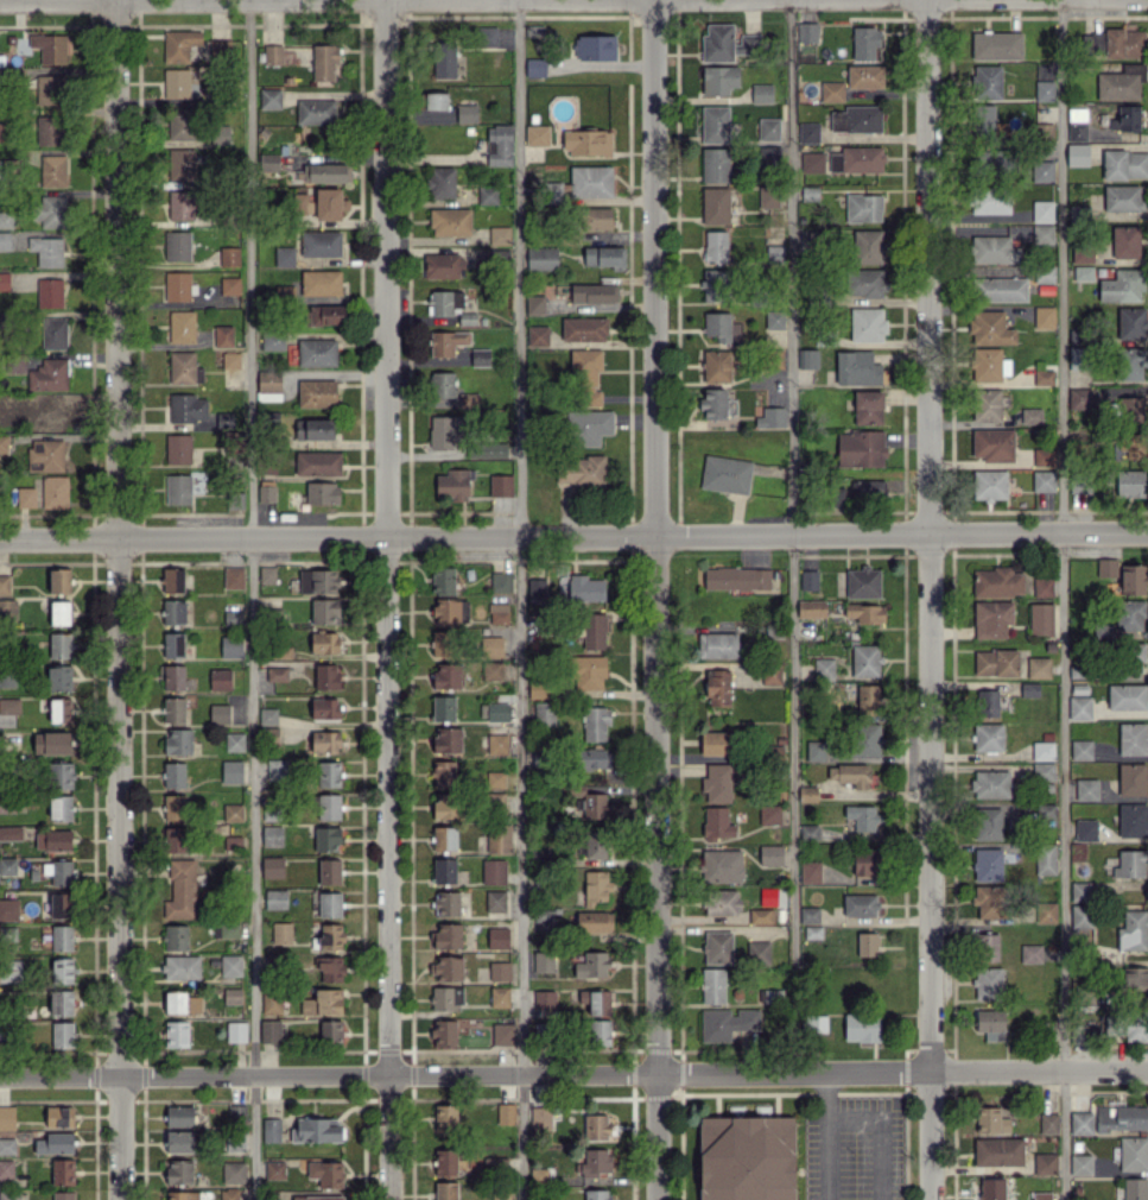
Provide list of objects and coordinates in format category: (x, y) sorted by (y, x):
road: (57, 0)
building: (537, 30)
building: (807, 32)
building: (486, 36)
building: (865, 42)
building: (1096, 42)
building: (725, 43)
building: (1124, 43)
building: (179, 44)
building: (997, 45)
building: (50, 46)
building: (595, 46)
building: (273, 53)
building: (444, 59)
building: (324, 61)
building: (535, 67)
building: (864, 76)
building: (719, 80)
building: (177, 82)
building: (987, 82)
building: (1121, 83)
building: (49, 89)
building: (831, 90)
building: (1045, 90)
building: (761, 93)
building: (269, 97)
building: (433, 100)
building: (316, 110)
building: (467, 113)
building: (984, 116)
building: (1125, 118)
building: (856, 119)
building: (182, 124)
building: (715, 124)
building: (768, 128)
building: (49, 130)
building: (1077, 130)
building: (1, 132)
building: (807, 132)
building: (220, 133)
building: (537, 134)
building: (586, 141)
building: (499, 145)
building: (1077, 154)
building: (857, 159)
building: (995, 159)
building: (268, 162)
building: (812, 162)
building: (180, 164)
building: (715, 164)
building: (1124, 164)
building: (53, 170)
building: (1041, 171)
building: (326, 172)
building: (590, 181)
building: (442, 182)
building: (487, 194)
building: (768, 196)
building: (1122, 197)
building: (989, 200)
building: (303, 203)
building: (329, 203)
building: (180, 204)
building: (715, 204)
building: (863, 207)
building: (1041, 210)
building: (52, 211)
building: (596, 217)
building: (6, 219)
building: (450, 221)
building: (497, 234)
building: (1042, 234)
building: (5, 240)
building: (1125, 241)
building: (321, 242)
building: (177, 245)
building: (715, 246)
building: (868, 246)
building: (994, 250)
building: (47, 251)
building: (774, 253)
building: (1082, 253)
building: (229, 255)
building: (285, 255)
building: (605, 257)
building: (541, 258)
building: (443, 265)
building: (1083, 272)
building: (5, 280)
building: (321, 282)
building: (865, 282)
building: (713, 284)
building: (177, 285)
building: (230, 285)
building: (1122, 285)
building: (1001, 289)
building: (49, 292)
building: (594, 293)
building: (445, 302)
building: (534, 304)
building: (326, 314)
building: (1044, 317)
building: (774, 320)
building: (1130, 322)
building: (867, 323)
building: (182, 326)
building: (722, 327)
building: (584, 328)
building: (991, 328)
building: (53, 333)
building: (223, 335)
building: (538, 335)
building: (272, 340)
building: (448, 341)
building: (316, 352)
building: (480, 356)
building: (807, 358)
building: (1076, 358)
building: (230, 360)
building: (15, 362)
building: (1130, 362)
building: (989, 364)
building: (716, 365)
building: (184, 367)
building: (857, 367)
building: (49, 374)
building: (585, 377)
building: (1044, 377)
building: (442, 384)
building: (268, 385)
building: (317, 393)
building: (1079, 398)
building: (713, 403)
building: (6, 404)
building: (987, 404)
building: (868, 406)
building: (1130, 409)
building: (196, 411)
building: (44, 415)
building: (1030, 415)
building: (770, 417)
building: (268, 418)
building: (588, 427)
building: (313, 428)
building: (445, 431)
building: (4, 443)
building: (992, 444)
building: (1128, 446)
building: (178, 448)
building: (861, 448)
building: (491, 449)
building: (45, 455)
building: (1044, 456)
building: (318, 463)
building: (582, 470)
building: (725, 474)
building: (1044, 480)
building: (1130, 482)
building: (452, 484)
building: (989, 484)
building: (500, 485)
building: (178, 488)
building: (871, 490)
building: (55, 491)
building: (266, 491)
building: (323, 492)
building: (837, 495)
building: (25, 497)
road: (573, 533)
road: (926, 535)
road: (792, 536)
building: (1106, 567)
building: (267, 574)
building: (234, 576)
building: (737, 579)
building: (808, 579)
building: (1133, 579)
building: (59, 580)
building: (172, 580)
building: (442, 580)
building: (318, 581)
building: (997, 581)
building: (500, 582)
building: (863, 582)
building: (5, 583)
building: (1042, 586)
building: (582, 588)
building: (537, 589)
road: (658, 599)
road: (114, 600)
road: (250, 600)
road: (388, 600)
road: (520, 600)
road: (1065, 600)
building: (7, 608)
building: (811, 608)
building: (325, 611)
building: (445, 611)
building: (59, 612)
building: (175, 612)
building: (865, 612)
building: (1129, 615)
building: (231, 617)
building: (991, 618)
building: (1040, 618)
building: (594, 631)
building: (325, 642)
building: (444, 643)
building: (173, 644)
building: (717, 644)
building: (59, 645)
building: (231, 646)
building: (491, 646)
building: (1131, 657)
building: (865, 661)
building: (996, 662)
building: (1038, 667)
building: (823, 668)
building: (491, 670)
building: (589, 671)
building: (277, 674)
building: (772, 674)
building: (446, 675)
building: (326, 676)
building: (59, 677)
building: (173, 677)
building: (220, 678)
building: (6, 680)
building: (717, 687)
building: (1029, 689)
building: (1127, 696)
building: (865, 697)
building: (987, 702)
building: (1079, 707)
building: (324, 708)
building: (443, 708)
building: (8, 709)
building: (173, 709)
building: (59, 710)
building: (497, 712)
building: (218, 713)
building: (544, 713)
building: (267, 715)
building: (596, 722)
building: (988, 737)
building: (1133, 738)
building: (448, 739)
building: (864, 739)
building: (178, 740)
building: (235, 741)
building: (325, 741)
building: (51, 743)
building: (497, 743)
building: (716, 743)
building: (1080, 749)
building: (816, 750)
building: (1042, 750)
building: (595, 758)
building: (277, 769)
building: (231, 771)
building: (1038, 771)
building: (443, 772)
building: (175, 773)
building: (328, 773)
building: (849, 773)
building: (59, 775)
building: (495, 779)
building: (1133, 779)
building: (717, 783)
building: (990, 783)
building: (1086, 789)
building: (807, 794)
building: (495, 798)
building: (590, 803)
building: (328, 806)
building: (445, 806)
building: (61, 807)
building: (175, 807)
building: (233, 811)
building: (769, 814)
building: (1046, 814)
building: (862, 816)
building: (1133, 820)
building: (716, 822)
building: (988, 823)
building: (1085, 829)
building: (808, 832)
building: (11, 833)
building: (272, 835)
building: (444, 838)
building: (499, 838)
building: (176, 839)
building: (326, 839)
building: (53, 840)
building: (596, 844)
building: (770, 855)
building: (1045, 859)
building: (864, 861)
building: (988, 864)
building: (1130, 864)
building: (722, 865)
building: (7, 866)
building: (272, 866)
building: (59, 871)
building: (329, 871)
building: (444, 871)
building: (810, 871)
building: (494, 872)
building: (596, 886)
building: (180, 890)
building: (1080, 890)
building: (275, 898)
building: (495, 901)
building: (722, 901)
building: (989, 901)
building: (446, 903)
building: (62, 904)
building: (329, 904)
building: (860, 904)
building: (8, 909)
building: (1046, 911)
building: (808, 914)
building: (761, 915)
building: (543, 916)
building: (1079, 917)
building: (594, 922)
building: (226, 929)
building: (1133, 930)
building: (813, 931)
building: (281, 933)
building: (7, 934)
building: (448, 935)
building: (329, 936)
building: (62, 937)
building: (176, 937)
building: (497, 937)
building: (868, 943)
building: (985, 946)
building: (718, 947)
building: (757, 952)
building: (1030, 953)
building: (543, 961)
building: (231, 965)
building: (592, 965)
building: (182, 966)
building: (330, 967)
building: (448, 968)
building: (62, 970)
building: (500, 971)
building: (1134, 978)
building: (988, 983)
building: (712, 985)
building: (233, 994)
building: (500, 996)
building: (445, 998)
building: (545, 999)
building: (61, 1002)
building: (272, 1002)
building: (323, 1002)
building: (182, 1003)
building: (600, 1003)
building: (727, 1022)
building: (817, 1023)
building: (990, 1023)
building: (1129, 1025)
building: (862, 1027)
building: (269, 1030)
building: (330, 1030)
building: (236, 1031)
building: (598, 1031)
building: (444, 1032)
building: (62, 1034)
building: (176, 1034)
building: (502, 1034)
building: (1078, 1034)
road: (1038, 1070)
road: (464, 1073)
building: (237, 1112)
building: (506, 1113)
building: (59, 1116)
building: (179, 1116)
building: (7, 1117)
building: (445, 1117)
building: (539, 1117)
building: (1121, 1117)
building: (991, 1120)
building: (1048, 1123)
building: (1080, 1123)
building: (596, 1126)
building: (271, 1129)
building: (316, 1129)
road: (928, 1135)
road: (826, 1136)
building: (180, 1141)
building: (235, 1142)
building: (55, 1143)
building: (7, 1145)
building: (997, 1151)
building: (1133, 1152)
building: (747, 1157)
building: (445, 1162)
building: (594, 1162)
building: (1045, 1163)
building: (1080, 1164)
building: (6, 1169)
building: (274, 1169)
building: (63, 1171)
building: (179, 1171)
building: (234, 1171)
building: (326, 1173)
building: (992, 1188)
building: (1135, 1188)
building: (445, 1190)
building: (229, 1194)
building: (596, 1194)
building: (63, 1195)
building: (182, 1195)
building: (1041, 1195)
building: (8, 1196)
building: (317, 1198)

